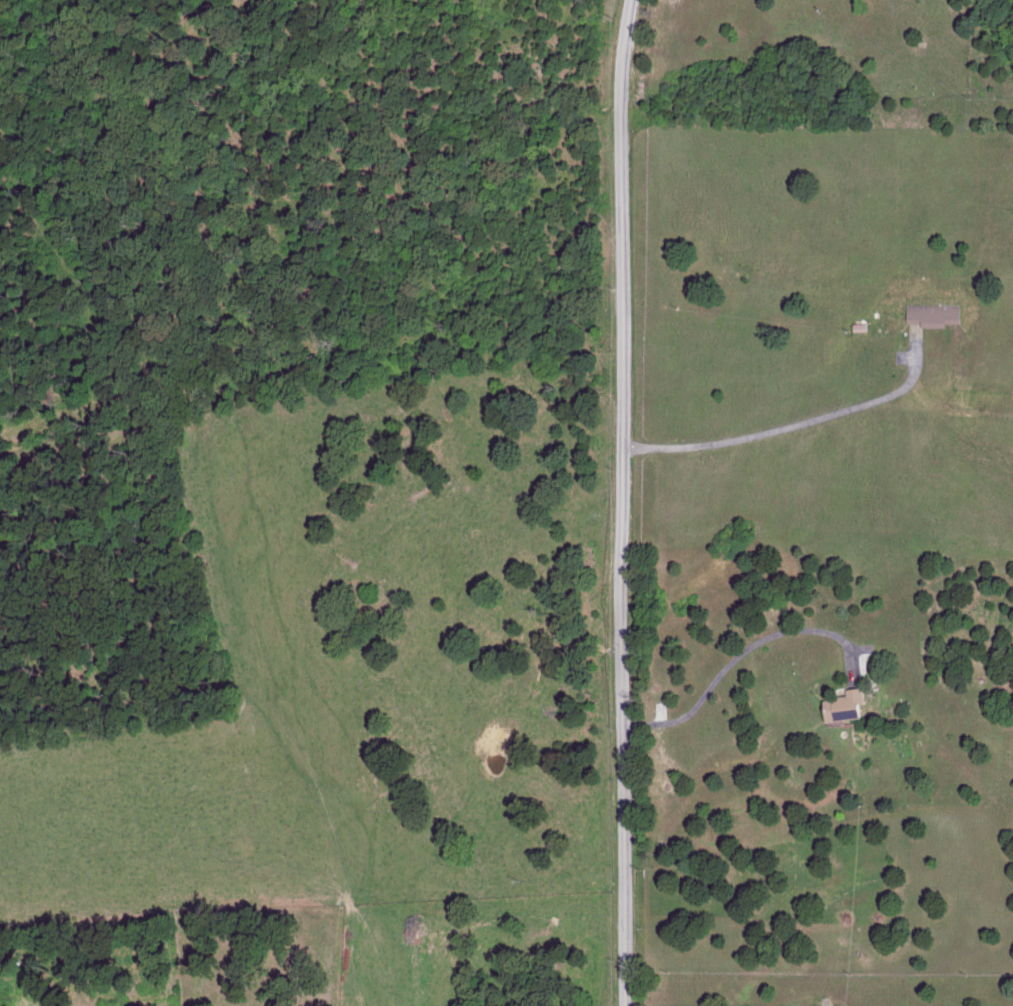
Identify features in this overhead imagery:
building: (930, 313)
road: (790, 431)
road: (622, 502)
road: (741, 649)
building: (840, 704)

